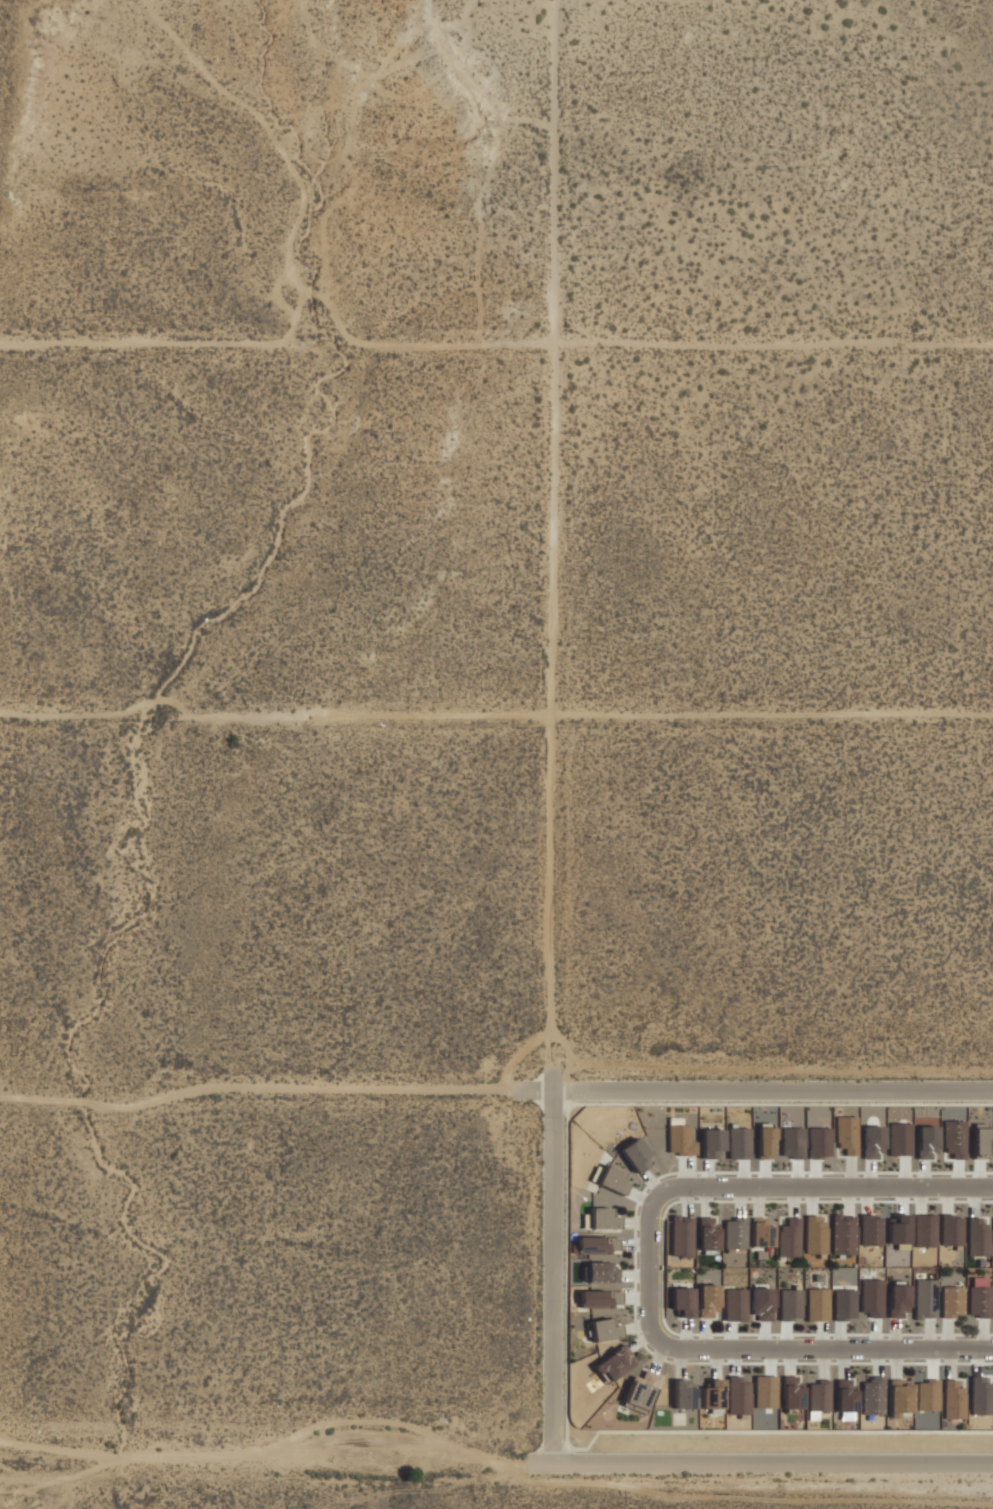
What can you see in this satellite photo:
road: (139, 341)
road: (702, 344)
road: (100, 715)
road: (592, 718)
road: (273, 1088)
road: (772, 1092)
building: (846, 1135)
building: (953, 1137)
building: (899, 1139)
building: (979, 1139)
building: (679, 1140)
building: (712, 1141)
building: (738, 1142)
building: (819, 1142)
building: (764, 1143)
building: (872, 1143)
building: (925, 1143)
road: (685, 1172)
road: (850, 1173)
road: (903, 1173)
road: (707, 1174)
road: (796, 1174)
road: (870, 1174)
road: (741, 1175)
road: (764, 1175)
road: (813, 1175)
road: (922, 1175)
road: (979, 1175)
road: (959, 1176)
building: (611, 1180)
road: (651, 1182)
road: (640, 1197)
road: (810, 1199)
road: (846, 1199)
road: (866, 1199)
road: (918, 1199)
road: (946, 1199)
road: (683, 1200)
road: (705, 1200)
road: (792, 1200)
road: (973, 1200)
road: (738, 1201)
road: (758, 1201)
road: (634, 1222)
building: (869, 1225)
building: (924, 1231)
building: (950, 1231)
building: (759, 1233)
building: (707, 1234)
building: (734, 1234)
building: (814, 1234)
building: (842, 1235)
building: (789, 1238)
building: (977, 1238)
road: (633, 1244)
road: (648, 1267)
road: (634, 1276)
road: (553, 1278)
road: (635, 1298)
building: (585, 1299)
building: (681, 1300)
building: (897, 1300)
building: (707, 1301)
building: (978, 1301)
building: (950, 1302)
building: (760, 1303)
building: (789, 1304)
building: (843, 1304)
building: (734, 1305)
building: (817, 1305)
road: (636, 1325)
building: (603, 1330)
road: (874, 1334)
road: (684, 1335)
road: (894, 1335)
road: (928, 1335)
road: (946, 1335)
road: (982, 1335)
road: (706, 1336)
road: (730, 1336)
road: (784, 1336)
road: (821, 1336)
road: (765, 1337)
road: (839, 1337)
road: (641, 1341)
road: (658, 1357)
road: (735, 1360)
road: (769, 1360)
road: (789, 1360)
road: (842, 1361)
road: (877, 1361)
road: (678, 1362)
road: (824, 1362)
road: (951, 1362)
building: (613, 1363)
road: (895, 1363)
building: (764, 1391)
building: (737, 1392)
building: (792, 1393)
building: (682, 1394)
building: (844, 1395)
building: (819, 1396)
building: (872, 1396)
building: (927, 1396)
building: (899, 1397)
building: (981, 1397)
building: (953, 1400)
road: (278, 1466)
road: (774, 1466)

